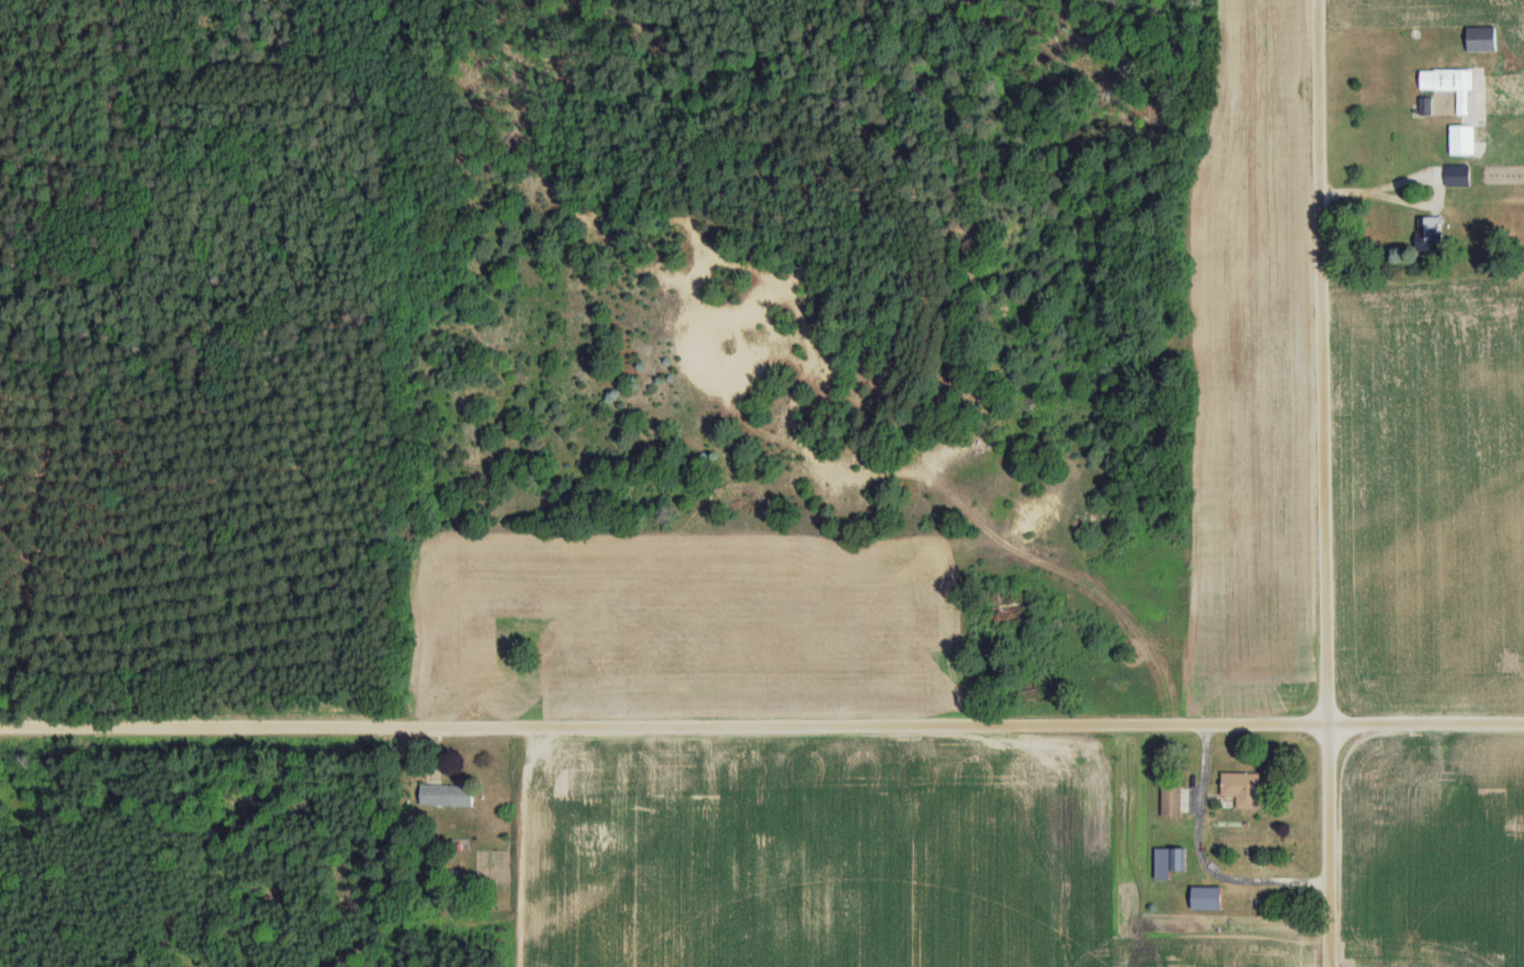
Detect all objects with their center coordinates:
building: (1482, 39)
building: (1458, 88)
building: (1427, 106)
building: (1462, 141)
building: (1458, 176)
building: (1429, 234)
road: (1322, 483)
road: (762, 723)
building: (1243, 789)
building: (448, 796)
building: (1172, 802)
building: (1170, 863)
building: (1208, 899)

